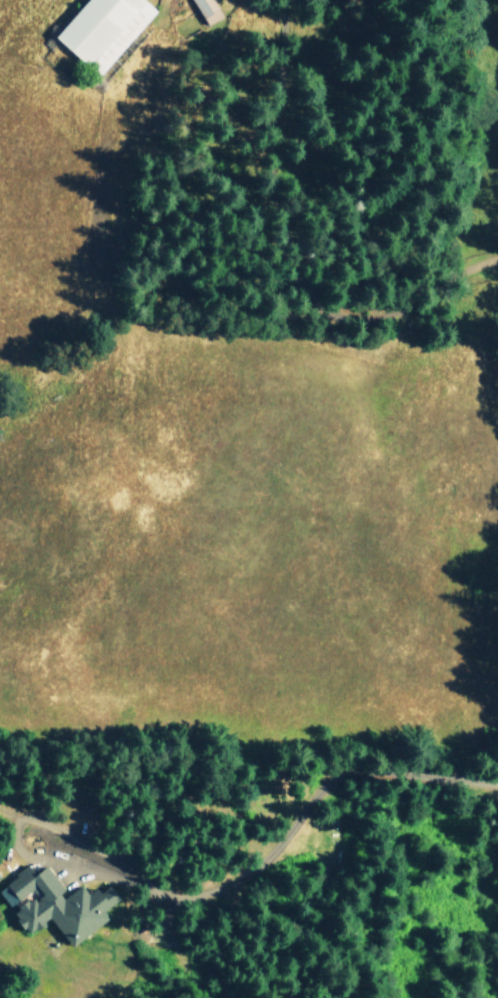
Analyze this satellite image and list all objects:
building: (207, 10)
building: (102, 29)
road: (281, 229)
road: (287, 826)
road: (73, 839)
building: (57, 903)

